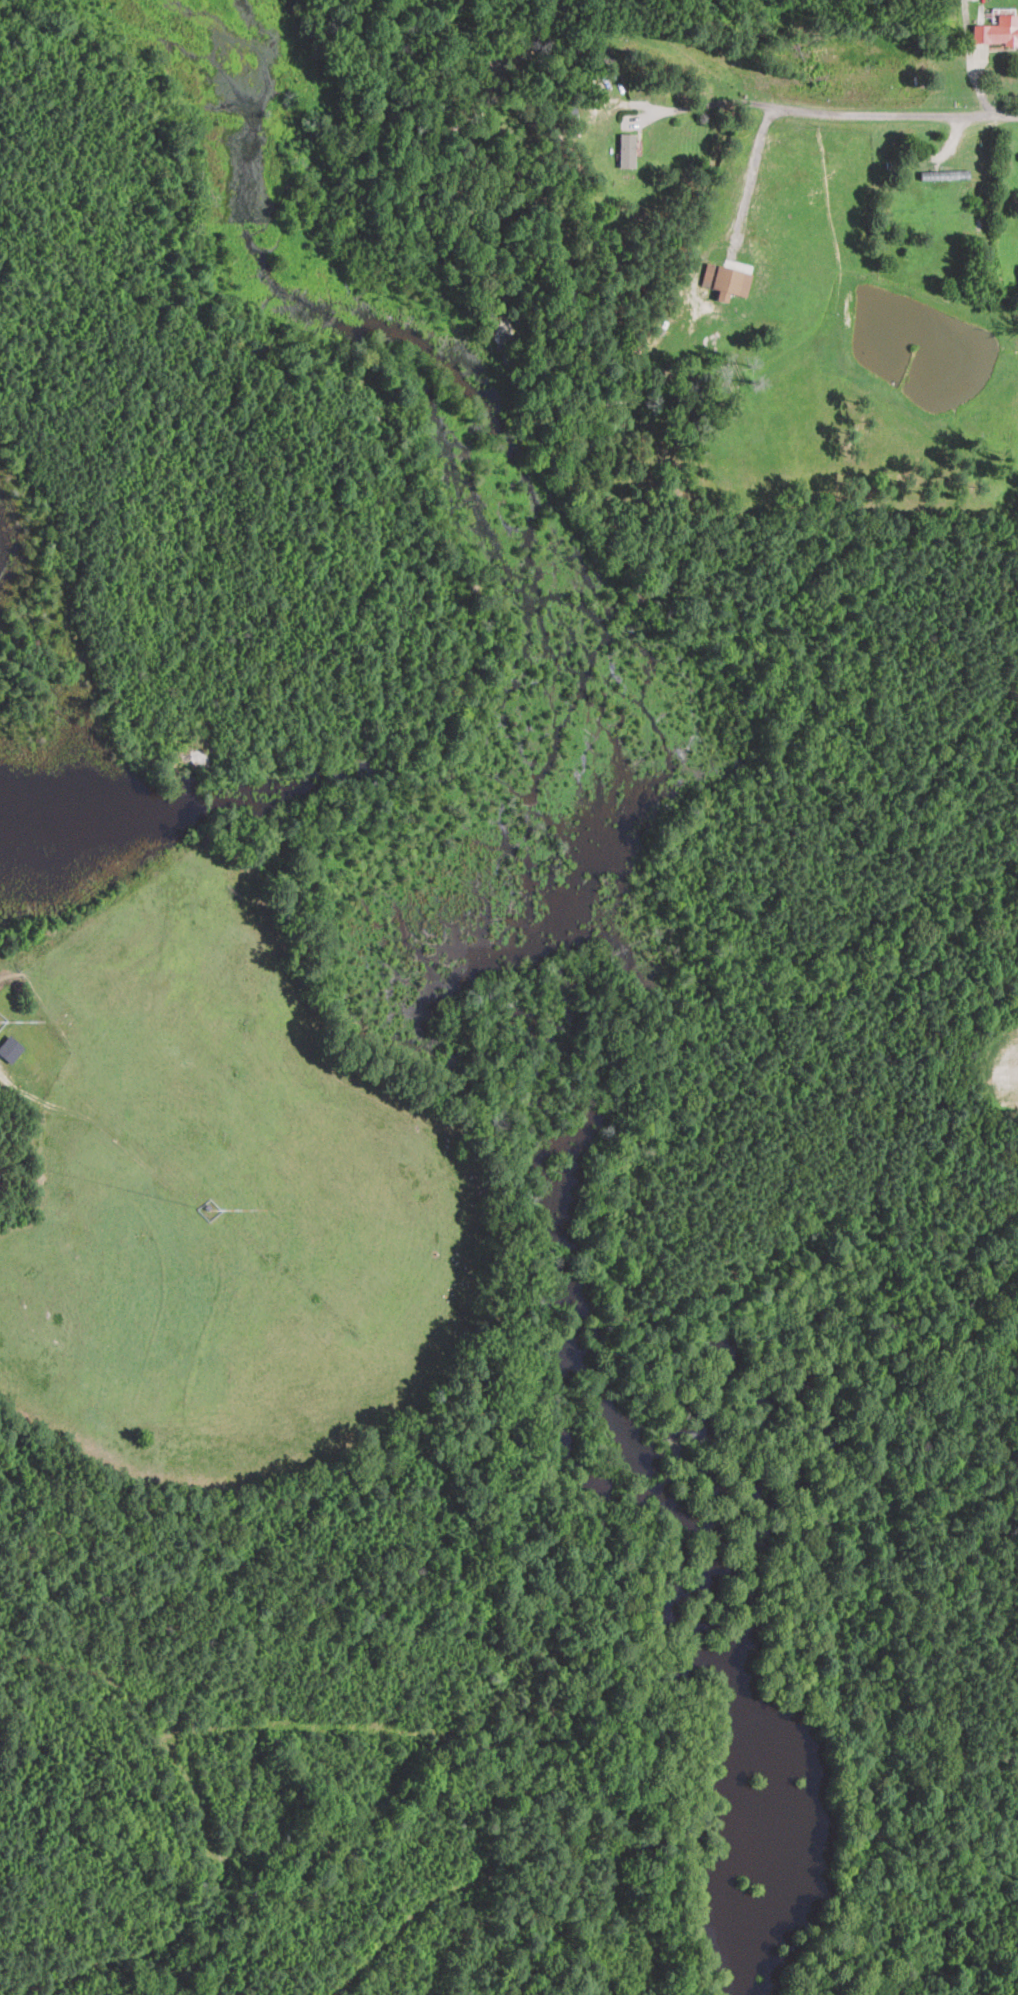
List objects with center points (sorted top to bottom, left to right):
building: (998, 27)
road: (821, 110)
road: (1008, 110)
building: (627, 149)
road: (752, 172)
building: (944, 174)
building: (725, 280)
building: (11, 1048)

